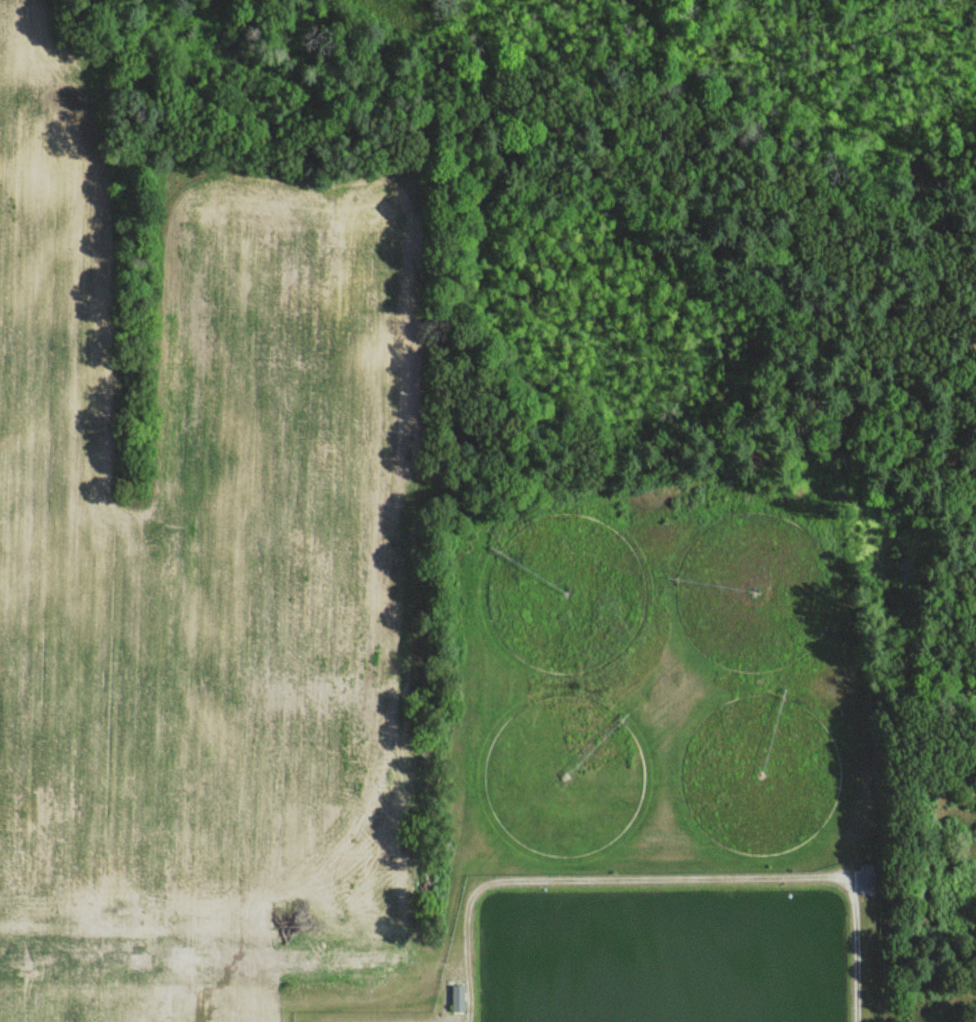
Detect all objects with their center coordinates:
building: (864, 880)
building: (455, 1000)

